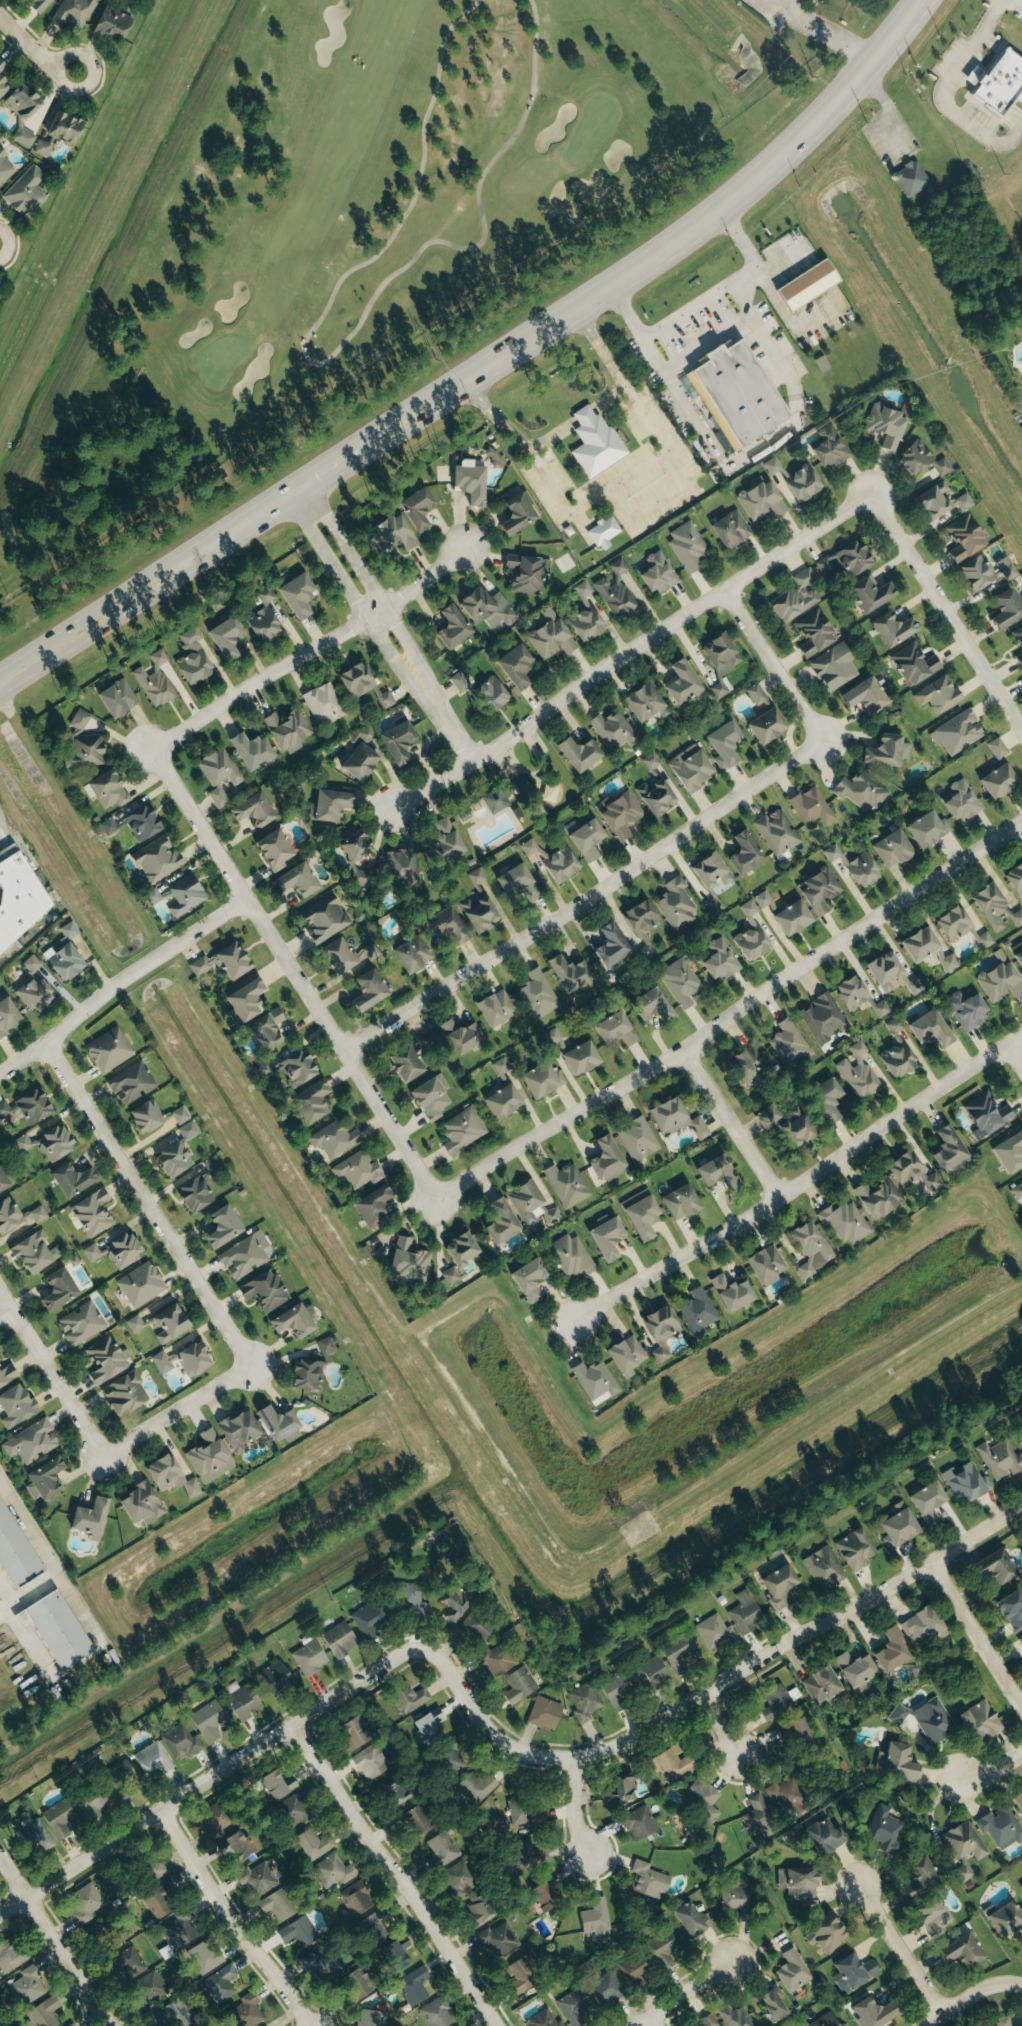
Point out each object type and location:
road: (779, 4)
road: (1014, 4)
building: (40, 6)
building: (74, 13)
building: (114, 29)
road: (824, 32)
road: (31, 57)
building: (2, 66)
building: (998, 83)
building: (3, 87)
road: (940, 96)
road: (888, 106)
building: (21, 113)
park: (590, 130)
building: (58, 133)
building: (4, 168)
building: (910, 178)
building: (25, 191)
road: (665, 251)
park: (352, 255)
building: (806, 286)
road: (687, 309)
road: (705, 338)
road: (338, 350)
building: (738, 393)
building: (885, 426)
road: (776, 436)
building: (595, 443)
building: (829, 447)
building: (914, 459)
building: (773, 466)
building: (942, 467)
road: (329, 468)
building: (469, 482)
building: (802, 483)
building: (762, 501)
building: (933, 502)
building: (963, 502)
building: (416, 509)
building: (515, 515)
road: (640, 516)
building: (730, 530)
building: (604, 533)
building: (391, 534)
building: (964, 539)
building: (688, 546)
building: (845, 560)
building: (986, 571)
building: (527, 573)
building: (657, 573)
road: (366, 577)
road: (147, 585)
road: (347, 589)
building: (616, 592)
building: (870, 595)
building: (296, 596)
building: (797, 597)
building: (487, 609)
building: (1007, 609)
road: (946, 610)
building: (585, 616)
building: (262, 618)
building: (451, 628)
building: (893, 630)
building: (814, 633)
building: (1018, 636)
building: (225, 639)
building: (552, 639)
road: (630, 649)
road: (310, 651)
building: (720, 655)
building: (192, 658)
building: (1019, 659)
building: (914, 664)
road: (772, 665)
building: (515, 666)
building: (835, 668)
building: (155, 682)
building: (460, 682)
building: (681, 683)
building: (363, 687)
building: (718, 691)
building: (757, 695)
building: (938, 695)
building: (489, 696)
building: (865, 696)
building: (116, 699)
building: (645, 703)
building: (324, 704)
road: (444, 719)
building: (79, 720)
building: (765, 726)
building: (287, 730)
building: (614, 731)
building: (957, 732)
building: (397, 743)
building: (724, 745)
building: (998, 748)
building: (251, 751)
building: (886, 752)
building: (86, 753)
building: (578, 755)
building: (652, 761)
building: (359, 763)
building: (690, 769)
building: (219, 774)
building: (998, 782)
building: (107, 790)
building: (860, 792)
park: (509, 794)
building: (549, 794)
building: (655, 798)
building: (495, 801)
building: (961, 801)
building: (331, 806)
building: (812, 807)
building: (251, 810)
building: (621, 814)
building: (134, 824)
building: (777, 833)
building: (586, 841)
building: (444, 843)
building: (354, 847)
building: (892, 848)
building: (273, 850)
building: (744, 853)
building: (832, 853)
building: (156, 859)
building: (550, 863)
building: (402, 868)
building: (862, 870)
building: (710, 872)
building: (476, 876)
building: (361, 878)
building: (1015, 878)
building: (296, 880)
building: (517, 883)
building: (819, 889)
building: (153, 895)
building: (184, 895)
building: (17, 899)
road: (585, 899)
building: (676, 905)
building: (995, 907)
building: (479, 914)
building: (791, 917)
building: (324, 919)
building: (953, 923)
building: (641, 926)
building: (445, 927)
building: (750, 933)
building: (982, 939)
building: (919, 943)
building: (610, 946)
building: (64, 953)
building: (366, 954)
building: (411, 954)
building: (336, 955)
building: (1018, 957)
building: (720, 959)
building: (947, 960)
building: (222, 961)
building: (32, 963)
building: (884, 970)
road: (293, 973)
building: (570, 976)
road: (119, 979)
building: (1000, 979)
building: (679, 982)
building: (915, 985)
building: (367, 990)
building: (851, 992)
building: (33, 993)
building: (537, 993)
building: (245, 1000)
building: (651, 1005)
building: (496, 1008)
building: (881, 1009)
building: (967, 1009)
road: (731, 1014)
building: (6, 1015)
building: (824, 1018)
building: (931, 1028)
building: (265, 1029)
building: (614, 1029)
building: (460, 1035)
building: (553, 1039)
building: (789, 1044)
building: (108, 1050)
building: (897, 1052)
road: (1013, 1056)
building: (580, 1057)
building: (752, 1062)
building: (404, 1063)
building: (501, 1066)
building: (290, 1068)
building: (859, 1073)
building: (541, 1079)
building: (132, 1083)
building: (431, 1096)
building: (825, 1099)
building: (310, 1101)
building: (502, 1101)
building: (26, 1107)
building: (986, 1114)
building: (769, 1115)
building: (153, 1116)
building: (675, 1119)
road: (729, 1124)
building: (188, 1130)
building: (796, 1130)
building: (461, 1132)
building: (637, 1138)
building: (334, 1139)
building: (47, 1142)
building: (947, 1149)
building: (1010, 1150)
building: (172, 1156)
building: (606, 1159)
building: (211, 1164)
building: (358, 1170)
building: (717, 1172)
building: (911, 1174)
building: (71, 1179)
building: (2, 1182)
road: (799, 1183)
building: (567, 1184)
building: (1017, 1191)
building: (193, 1194)
building: (878, 1197)
building: (680, 1200)
building: (531, 1204)
road: (146, 1205)
building: (372, 1206)
building: (91, 1213)
building: (641, 1214)
building: (18, 1215)
building: (500, 1221)
building: (844, 1222)
building: (221, 1226)
building: (606, 1237)
building: (811, 1249)
building: (115, 1251)
building: (34, 1252)
building: (244, 1255)
building: (570, 1255)
building: (460, 1256)
building: (407, 1259)
building: (766, 1265)
building: (528, 1280)
building: (140, 1285)
building: (57, 1289)
building: (263, 1291)
building: (731, 1292)
building: (698, 1312)
road: (3, 1313)
building: (291, 1321)
building: (81, 1323)
building: (168, 1323)
building: (136, 1324)
building: (661, 1330)
building: (626, 1356)
building: (105, 1360)
building: (182, 1360)
building: (310, 1368)
building: (7, 1374)
road: (49, 1378)
building: (595, 1380)
building: (123, 1393)
building: (15, 1406)
road: (174, 1412)
building: (276, 1422)
building: (237, 1431)
building: (1019, 1433)
building: (31, 1442)
building: (209, 1457)
building: (1000, 1459)
building: (169, 1476)
building: (43, 1480)
building: (966, 1483)
building: (928, 1502)
building: (140, 1504)
building: (89, 1518)
building: (899, 1525)
building: (855, 1549)
building: (14, 1553)
road: (44, 1557)
building: (995, 1566)
building: (824, 1567)
building: (779, 1585)
building: (412, 1599)
building: (453, 1603)
building: (1012, 1609)
building: (745, 1613)
building: (367, 1620)
building: (921, 1625)
building: (475, 1628)
building: (56, 1630)
building: (714, 1632)
road: (976, 1637)
building: (339, 1640)
building: (1020, 1641)
building: (891, 1651)
building: (678, 1654)
building: (309, 1658)
building: (494, 1661)
building: (855, 1671)
building: (652, 1672)
building: (275, 1677)
building: (520, 1685)
building: (820, 1685)
road: (713, 1687)
building: (616, 1690)
building: (408, 1698)
building: (241, 1700)
building: (585, 1702)
building: (776, 1702)
building: (544, 1713)
building: (898, 1714)
building: (934, 1720)
building: (979, 1721)
building: (208, 1722)
building: (428, 1724)
road: (720, 1724)
building: (354, 1731)
building: (798, 1732)
building: (181, 1741)
building: (451, 1754)
building: (150, 1757)
building: (370, 1762)
building: (897, 1762)
building: (671, 1765)
road: (994, 1771)
building: (121, 1773)
road: (209, 1777)
building: (279, 1786)
building: (477, 1786)
building: (392, 1792)
building: (620, 1792)
building: (787, 1796)
building: (701, 1799)
building: (1019, 1799)
building: (93, 1802)
road: (573, 1806)
building: (292, 1810)
building: (527, 1813)
building: (758, 1815)
building: (59, 1819)
building: (417, 1821)
building: (214, 1823)
building: (639, 1823)
building: (1001, 1827)
building: (883, 1830)
building: (34, 1836)
building: (822, 1837)
building: (315, 1843)
building: (234, 1847)
building: (963, 1847)
building: (444, 1848)
building: (527, 1852)
building: (154, 1870)
building: (332, 1872)
road: (395, 1874)
building: (918, 1876)
building: (459, 1877)
building: (258, 1879)
building: (648, 1881)
building: (798, 1884)
building: (1021, 1888)
building: (546, 1893)
building: (735, 1896)
building: (354, 1898)
building: (159, 1900)
building: (85, 1902)
building: (275, 1906)
building: (478, 1915)
building: (595, 1915)
building: (933, 1916)
building: (1006, 1918)
road: (230, 1920)
building: (691, 1920)
building: (375, 1925)
building: (179, 1930)
building: (298, 1932)
building: (826, 1935)
building: (496, 1940)
road: (54, 1942)
building: (663, 1944)
road: (898, 1948)
building: (961, 1952)
building: (396, 1953)
building: (9, 1956)
building: (204, 1957)
building: (131, 1963)
building: (319, 1964)
building: (635, 1970)
building: (793, 1971)
building: (853, 1973)
building: (220, 1980)
building: (354, 1984)
building: (150, 1985)
building: (413, 1986)
building: (26, 1987)
building: (517, 1987)
building: (606, 1989)
road: (680, 1993)
road: (971, 1996)
building: (772, 2003)
building: (574, 2006)
building: (246, 2011)
building: (44, 2013)
building: (437, 2013)
building: (872, 2013)
building: (736, 2016)
building: (543, 2020)
road: (650, 2020)
building: (710, 2020)
building: (824, 2021)
building: (1000, 2022)
building: (264, 2025)
building: (459, 2025)
building: (846, 2025)

